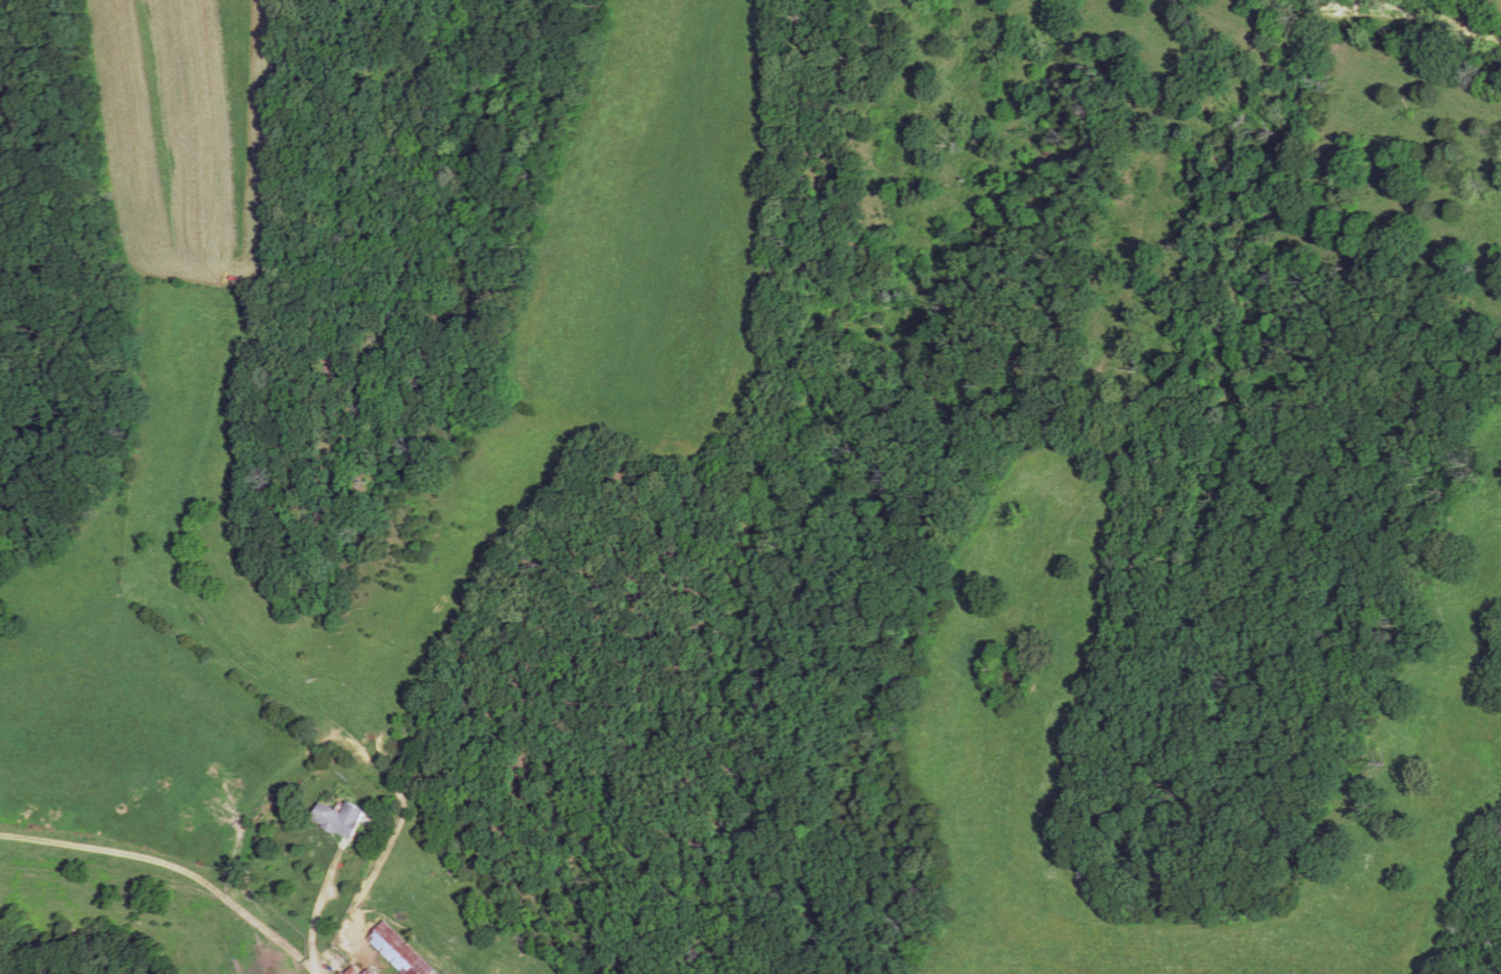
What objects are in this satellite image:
building: (341, 818)
road: (180, 857)
road: (316, 907)
building: (399, 951)
building: (353, 971)
building: (369, 972)

